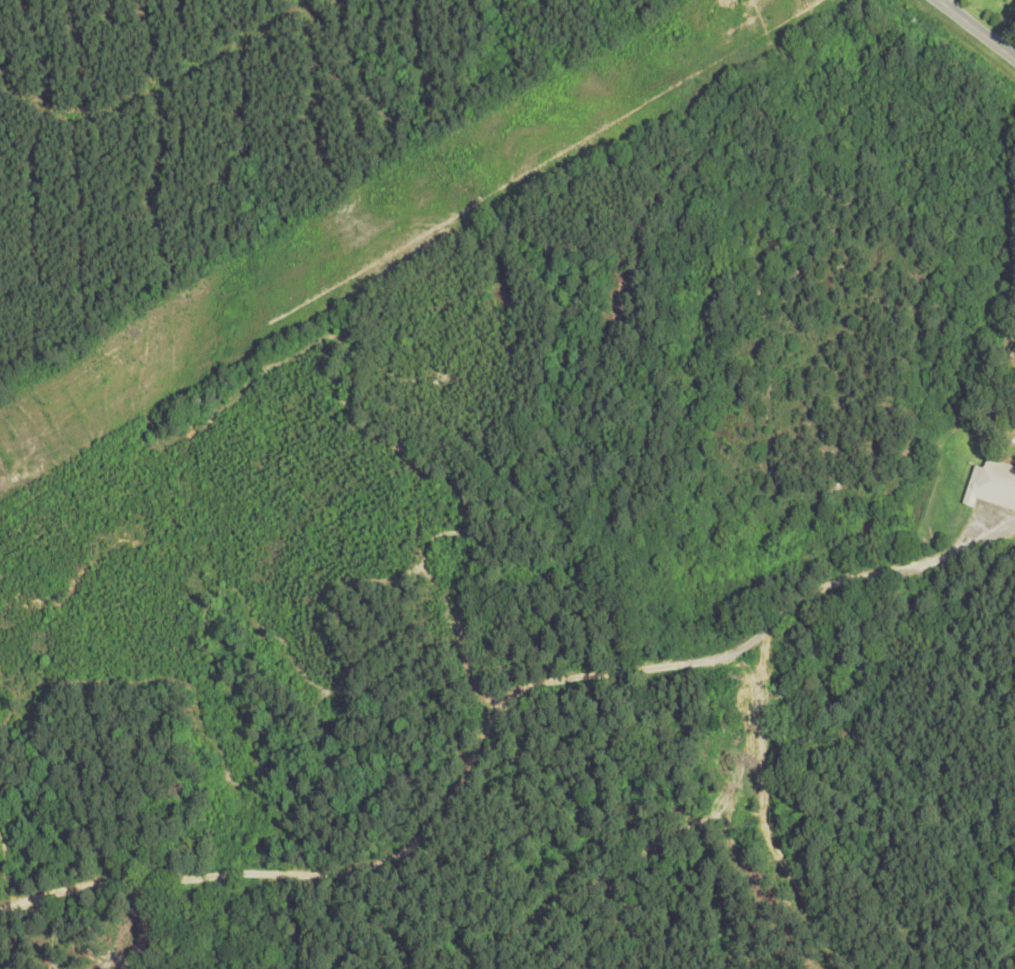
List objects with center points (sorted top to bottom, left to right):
road: (978, 26)
building: (993, 484)
road: (1013, 521)
road: (886, 571)
road: (763, 808)
road: (421, 838)

